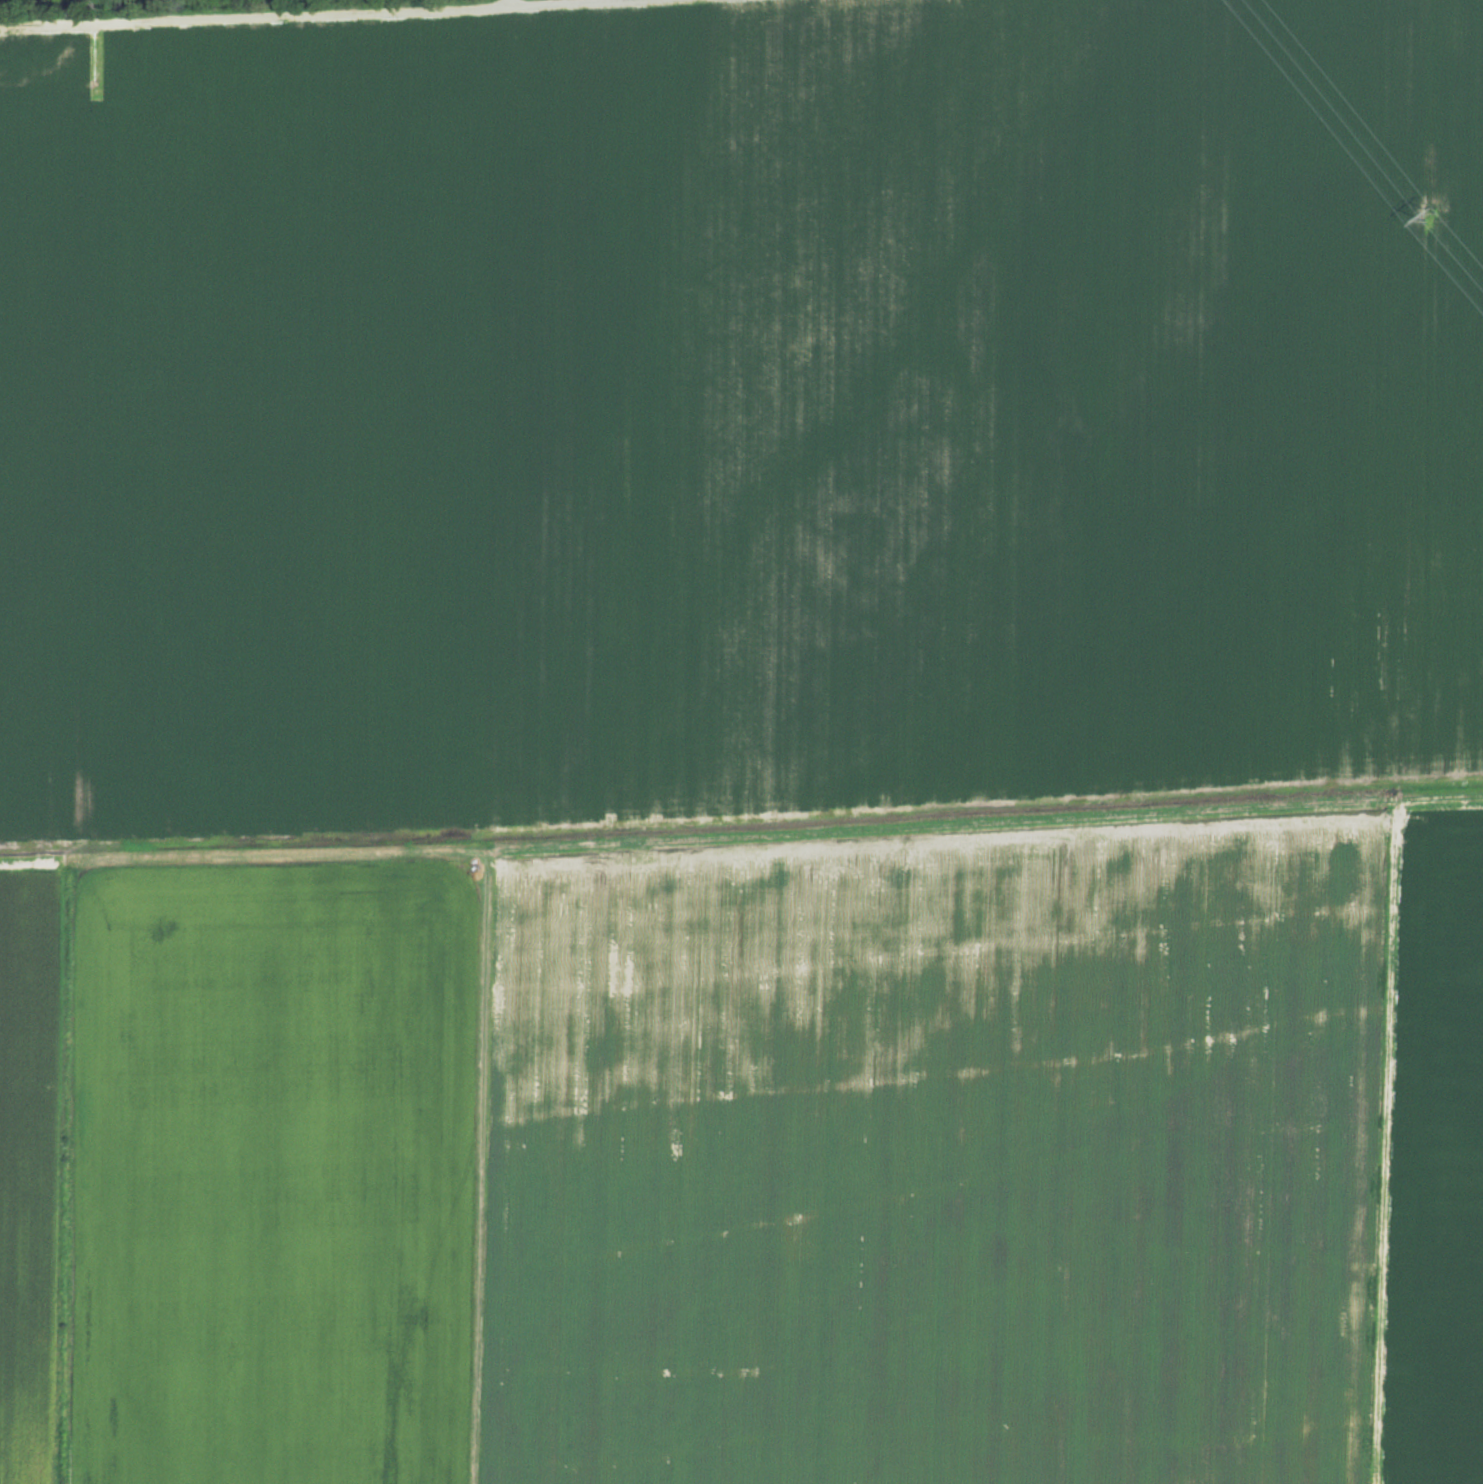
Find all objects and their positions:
power tower: (1435, 214)

